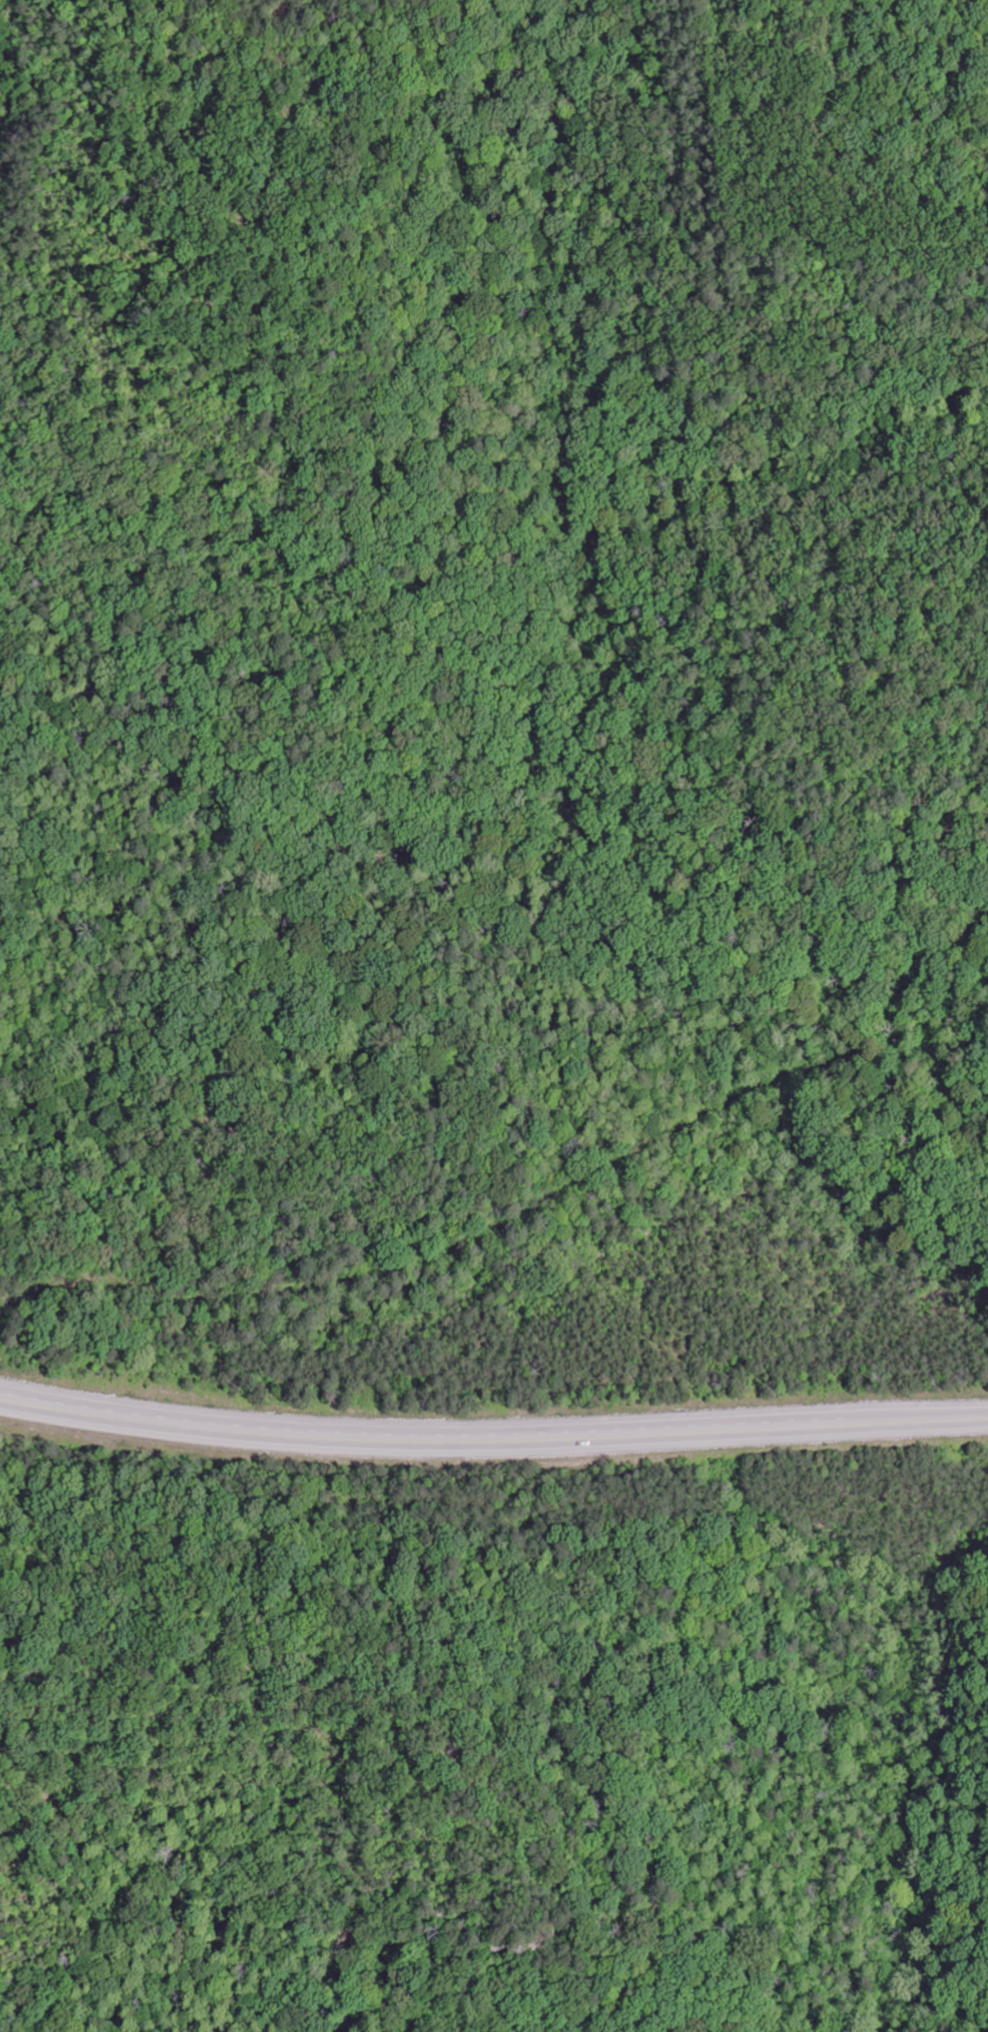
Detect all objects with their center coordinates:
road: (492, 1442)

